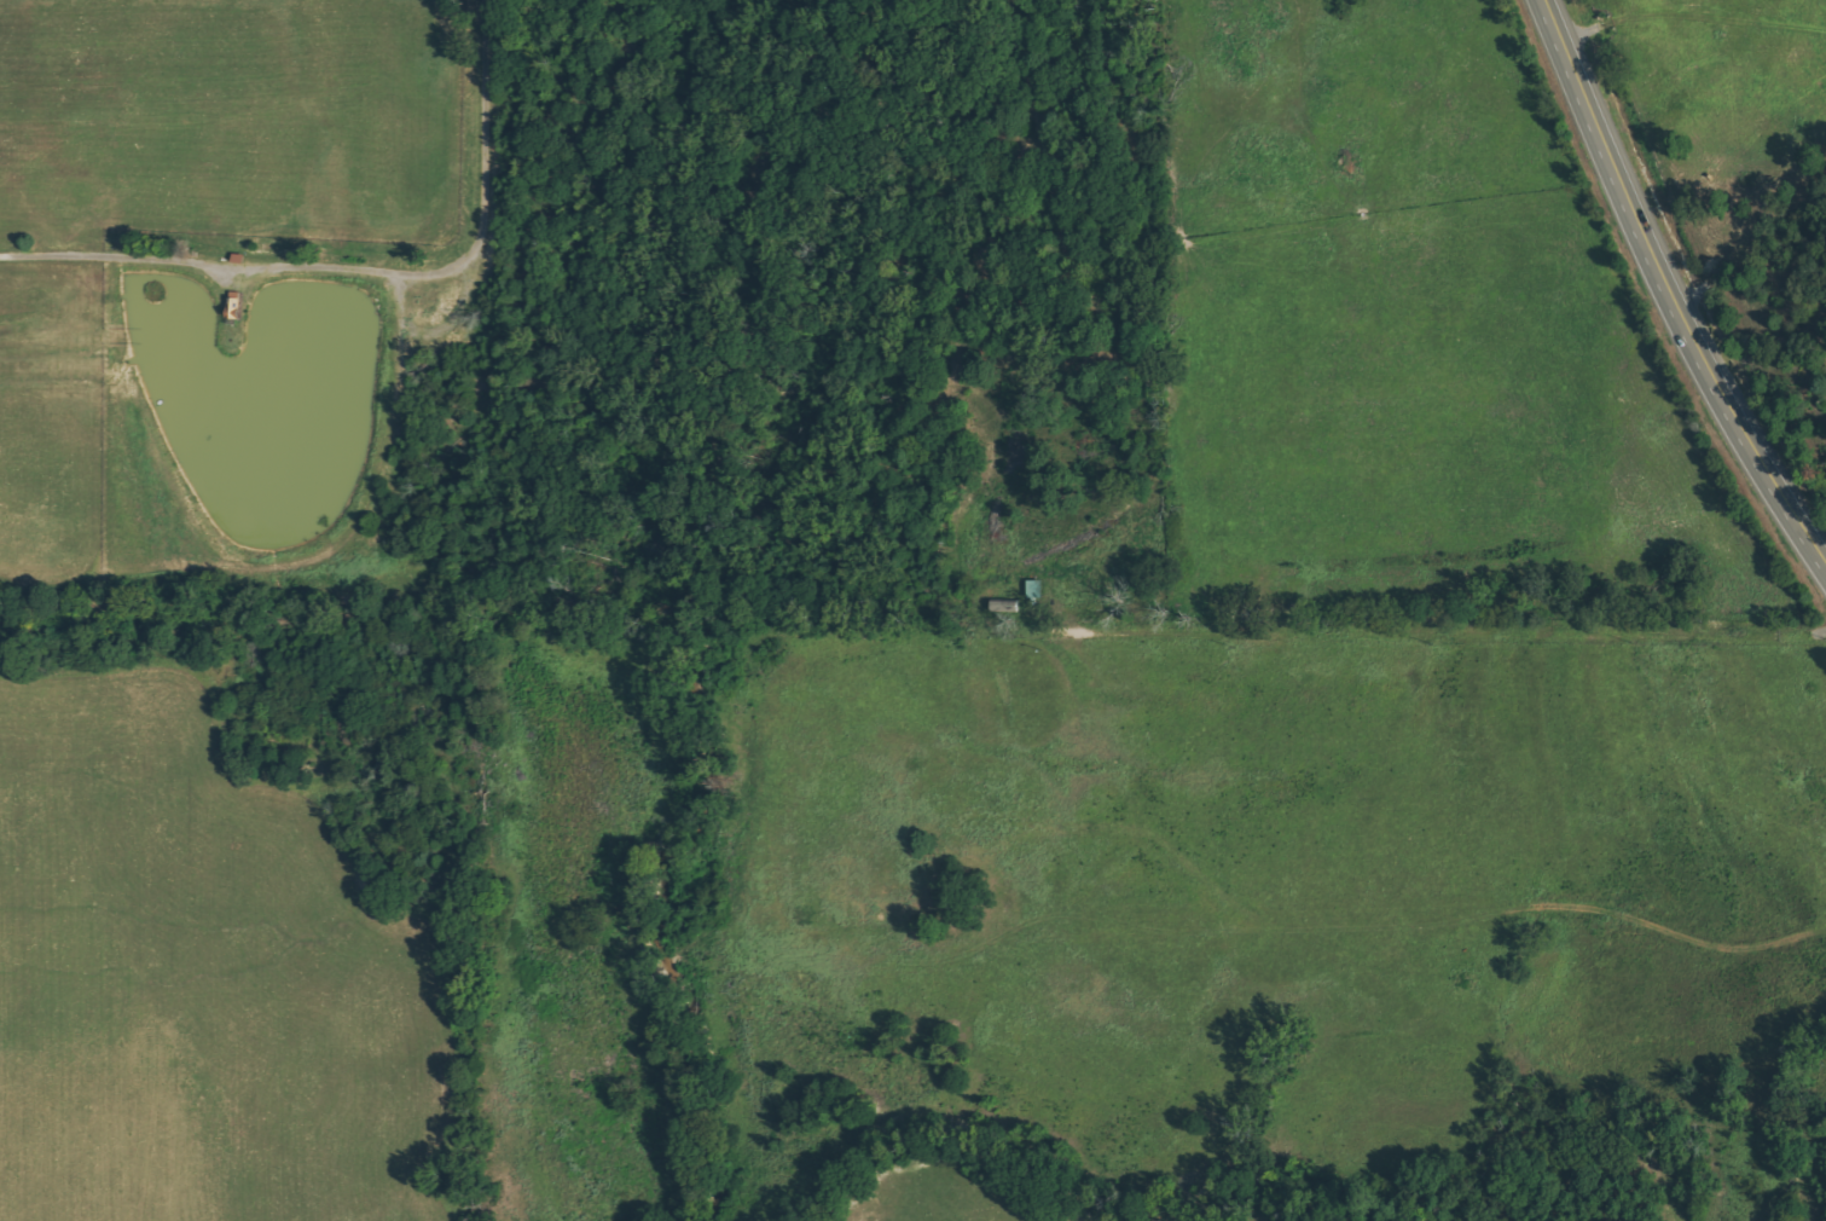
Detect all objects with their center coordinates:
road: (1675, 282)

